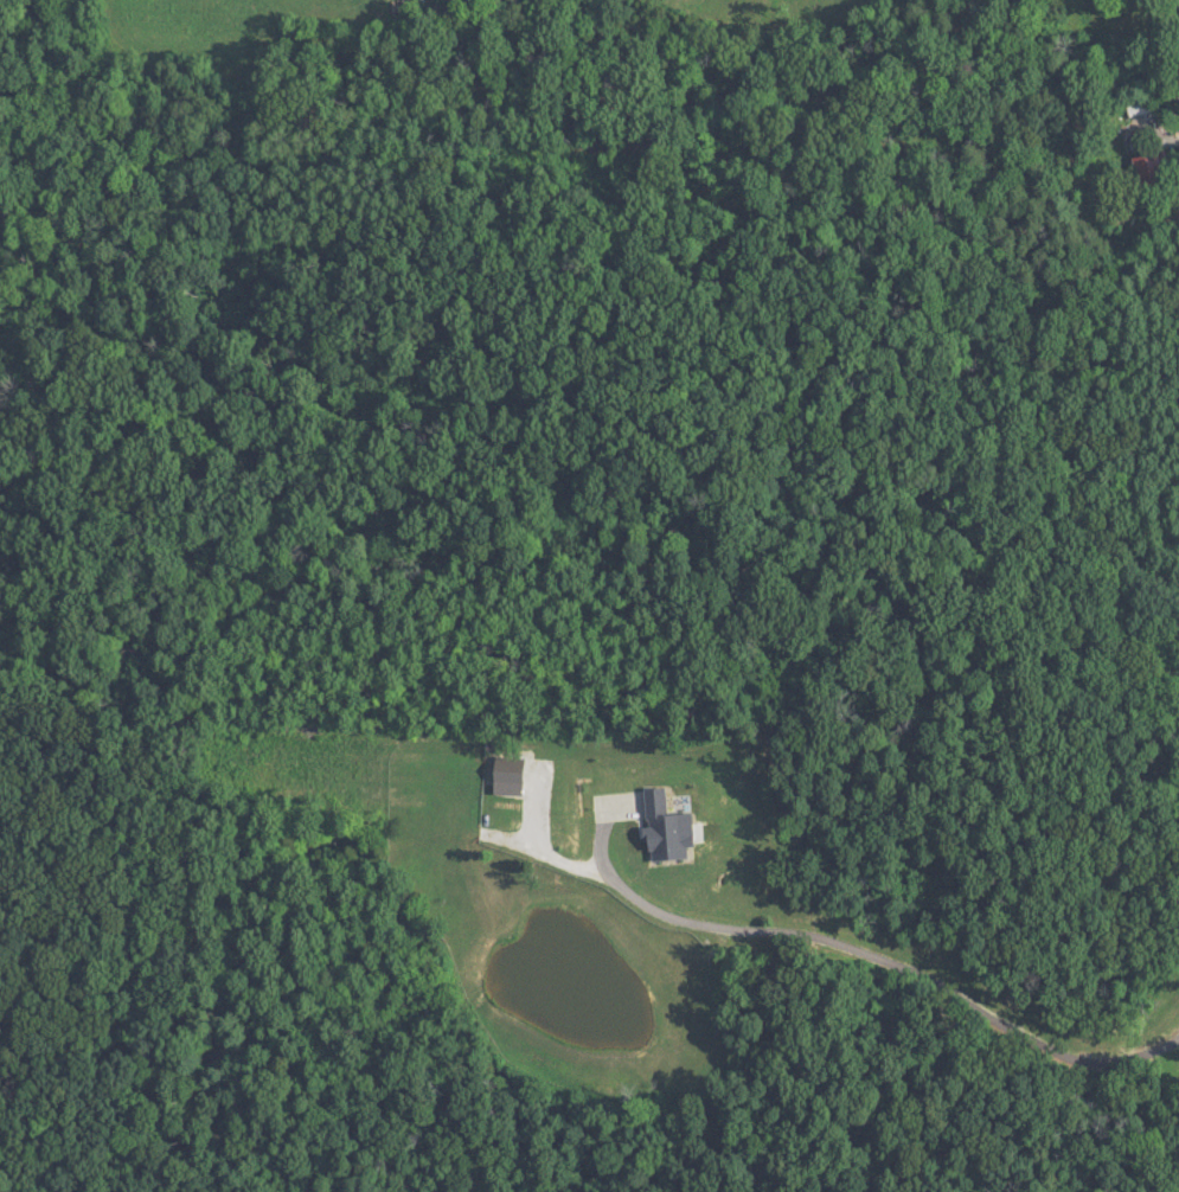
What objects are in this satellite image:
building: (1124, 0)
building: (1135, 102)
building: (1146, 175)
road: (861, 942)

